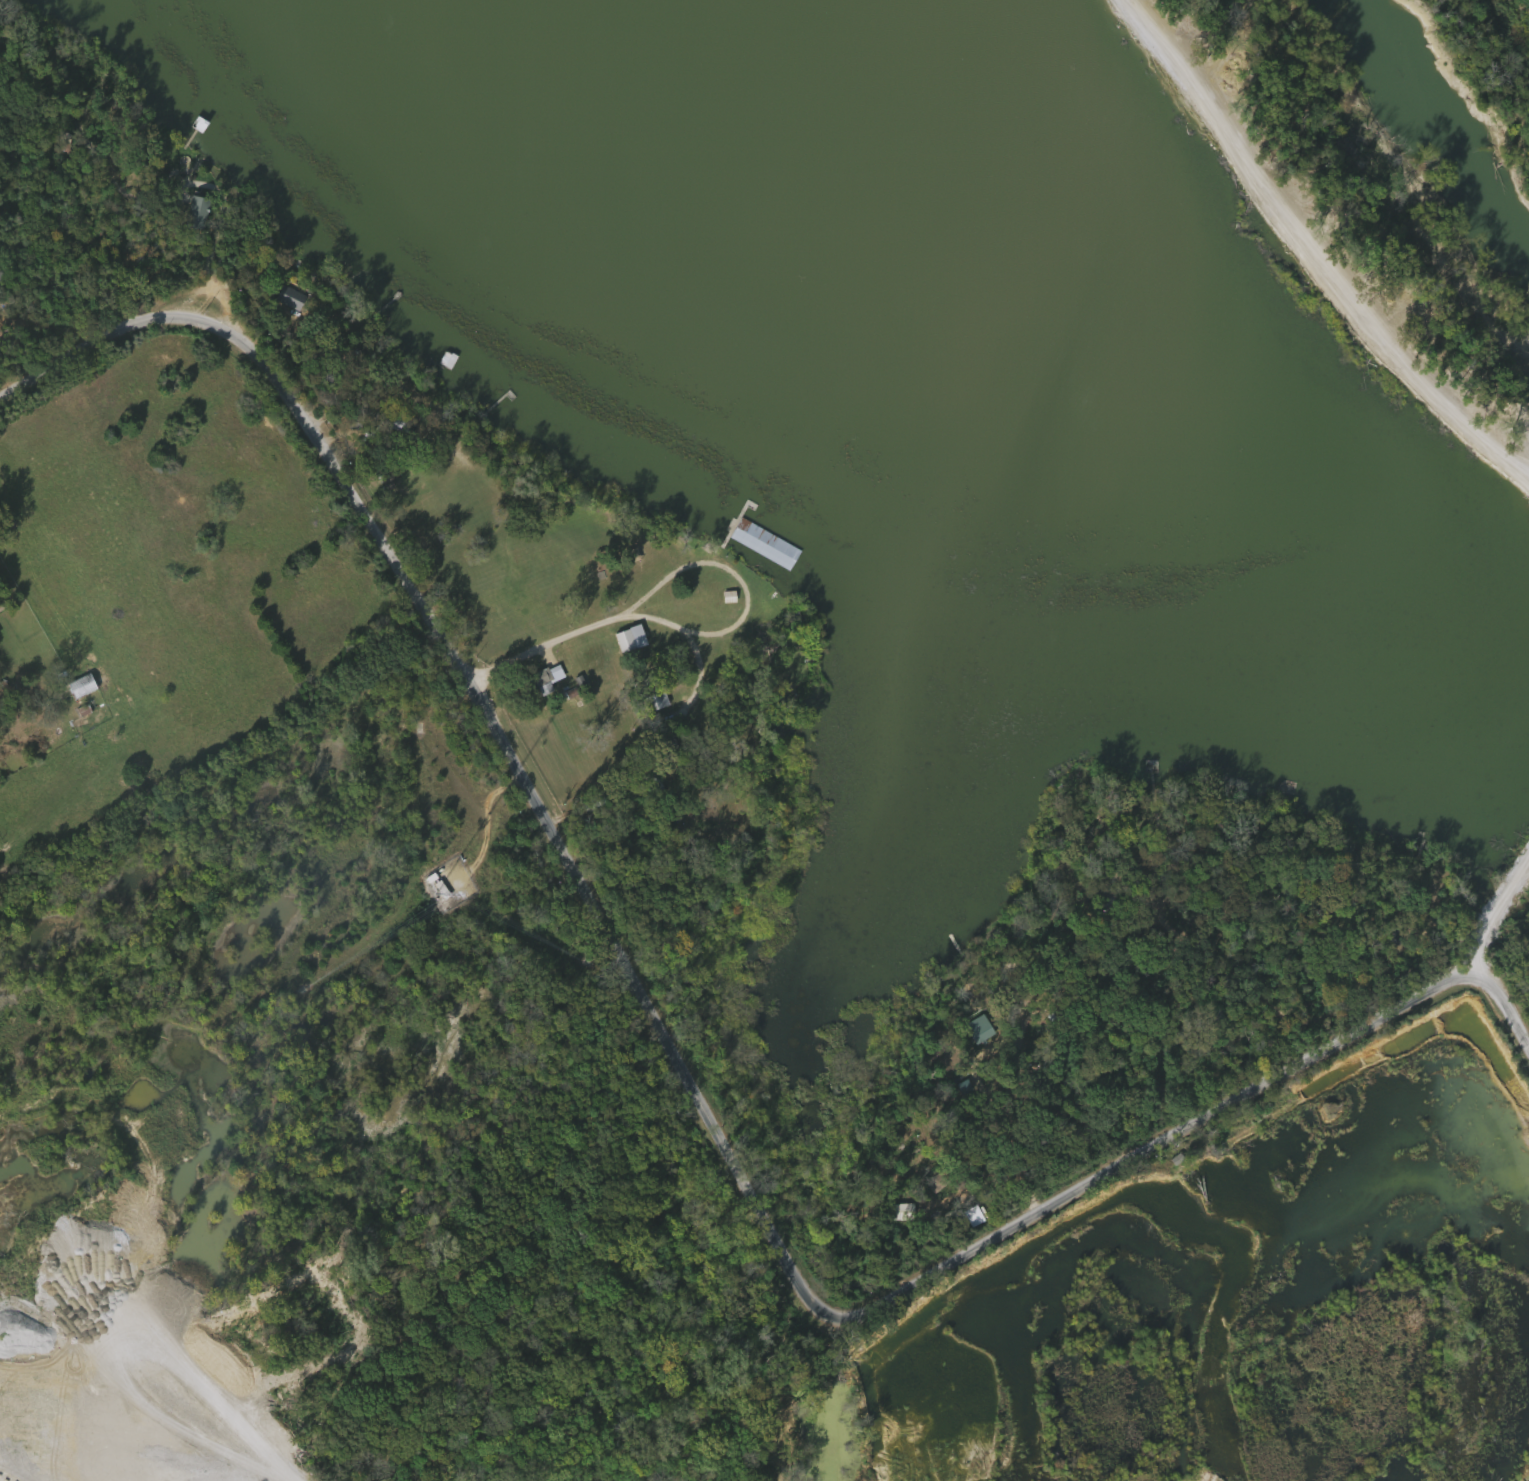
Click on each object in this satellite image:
river: (1435, 120)
building: (198, 213)
building: (292, 298)
road: (93, 355)
building: (449, 360)
building: (766, 545)
building: (0, 612)
road: (679, 626)
building: (630, 639)
road: (544, 643)
building: (541, 678)
building: (83, 685)
building: (650, 700)
building: (658, 701)
building: (668, 744)
building: (1109, 898)
building: (1018, 967)
road: (731, 1166)
building: (1193, 1181)
building: (894, 1210)
road: (1179, 1216)
road: (155, 1217)
building: (1295, 1255)
building: (878, 1370)
road: (968, 1378)
building: (900, 1428)
road: (9, 1454)
road: (251, 1476)

